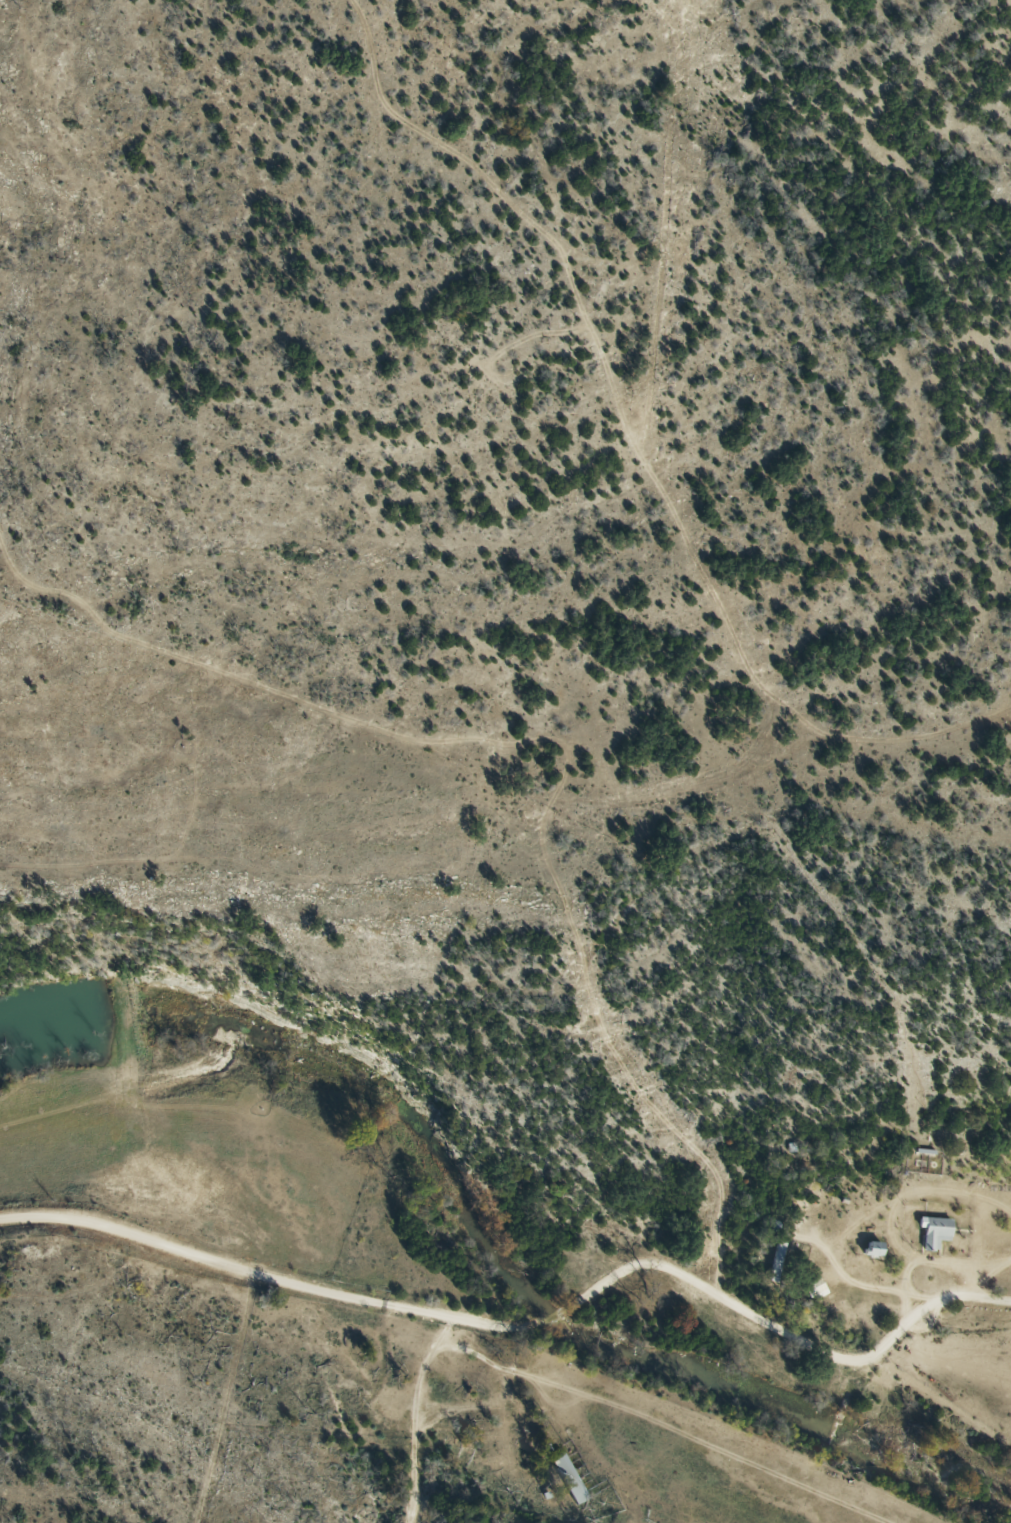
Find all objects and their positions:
building: (937, 1232)
building: (877, 1250)
building: (779, 1261)
building: (818, 1288)
road: (87, 1337)
road: (511, 1363)
road: (433, 1443)
building: (571, 1479)

